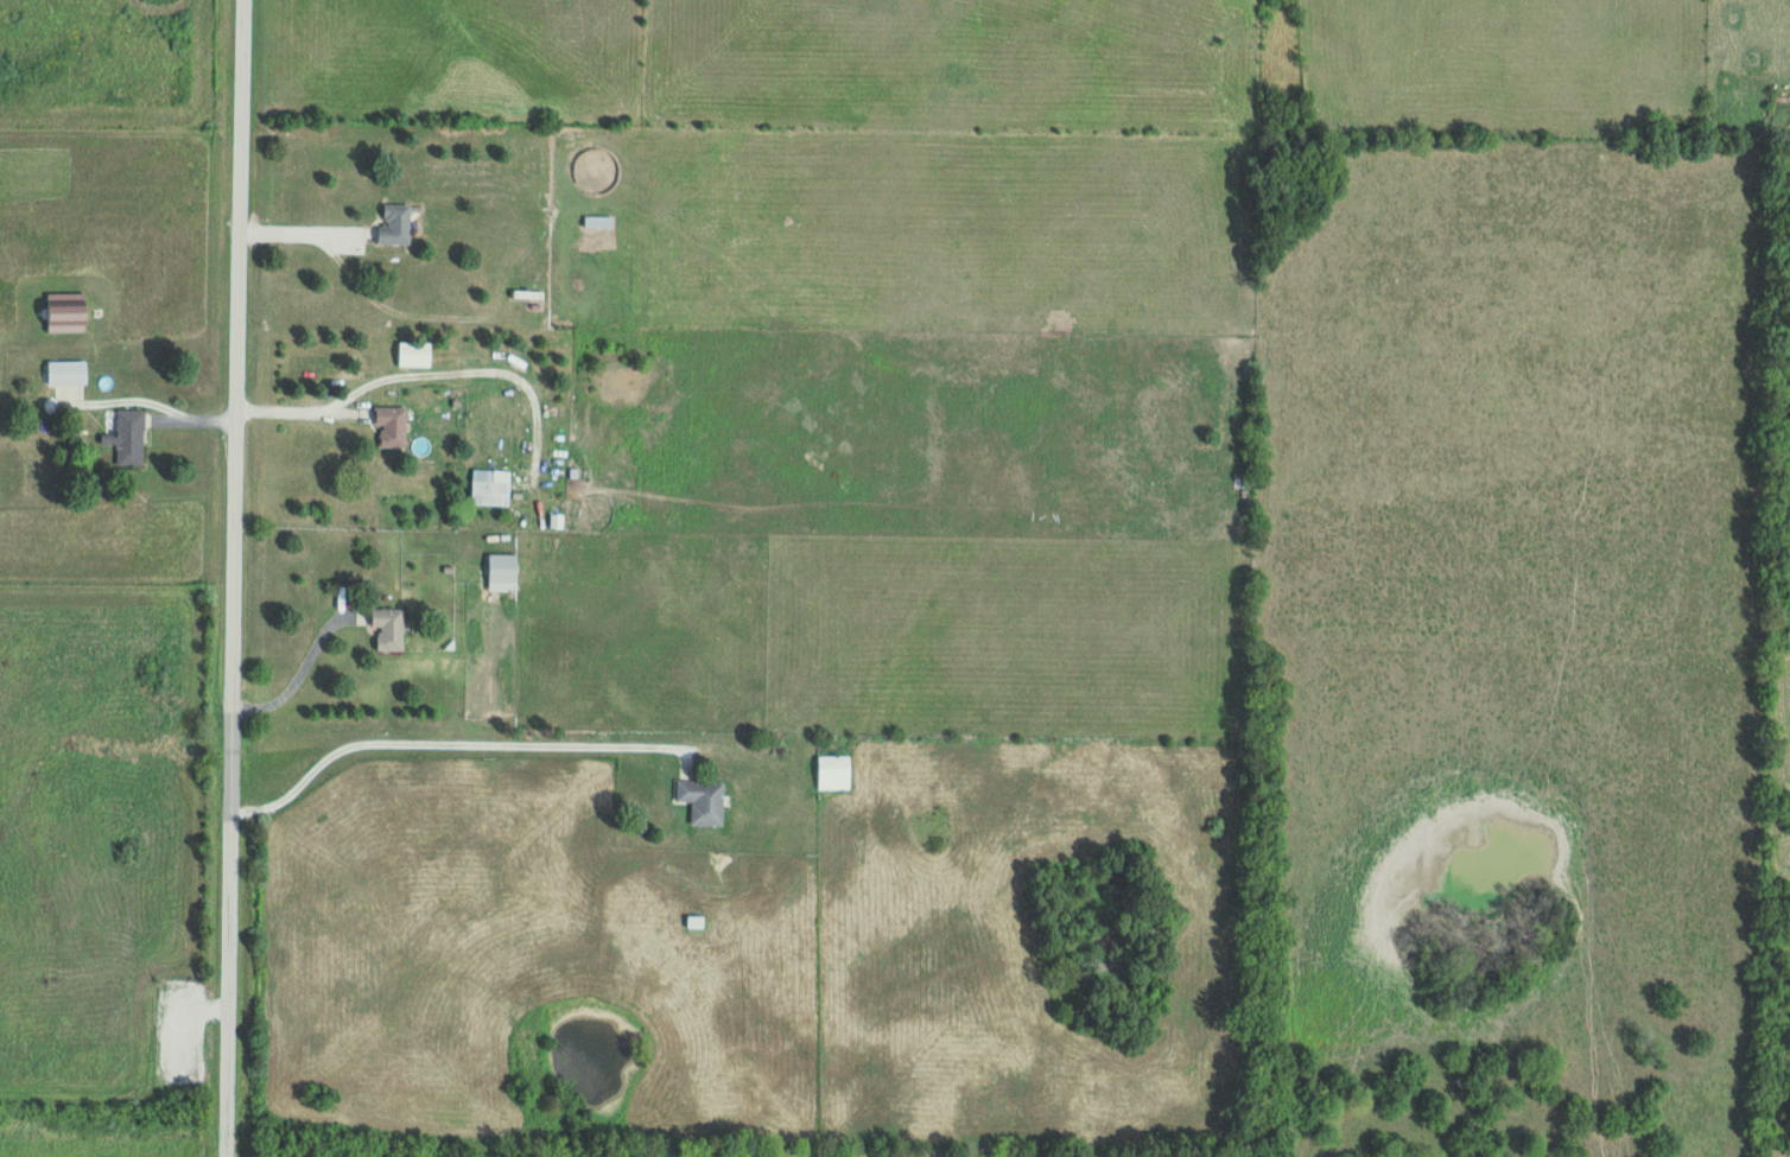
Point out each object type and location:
building: (599, 222)
building: (396, 225)
road: (294, 234)
building: (68, 373)
road: (298, 413)
building: (392, 426)
building: (128, 438)
building: (491, 494)
building: (502, 567)
road: (231, 578)
building: (389, 627)
road: (297, 673)
road: (443, 744)
building: (836, 773)
building: (703, 800)
building: (696, 921)

